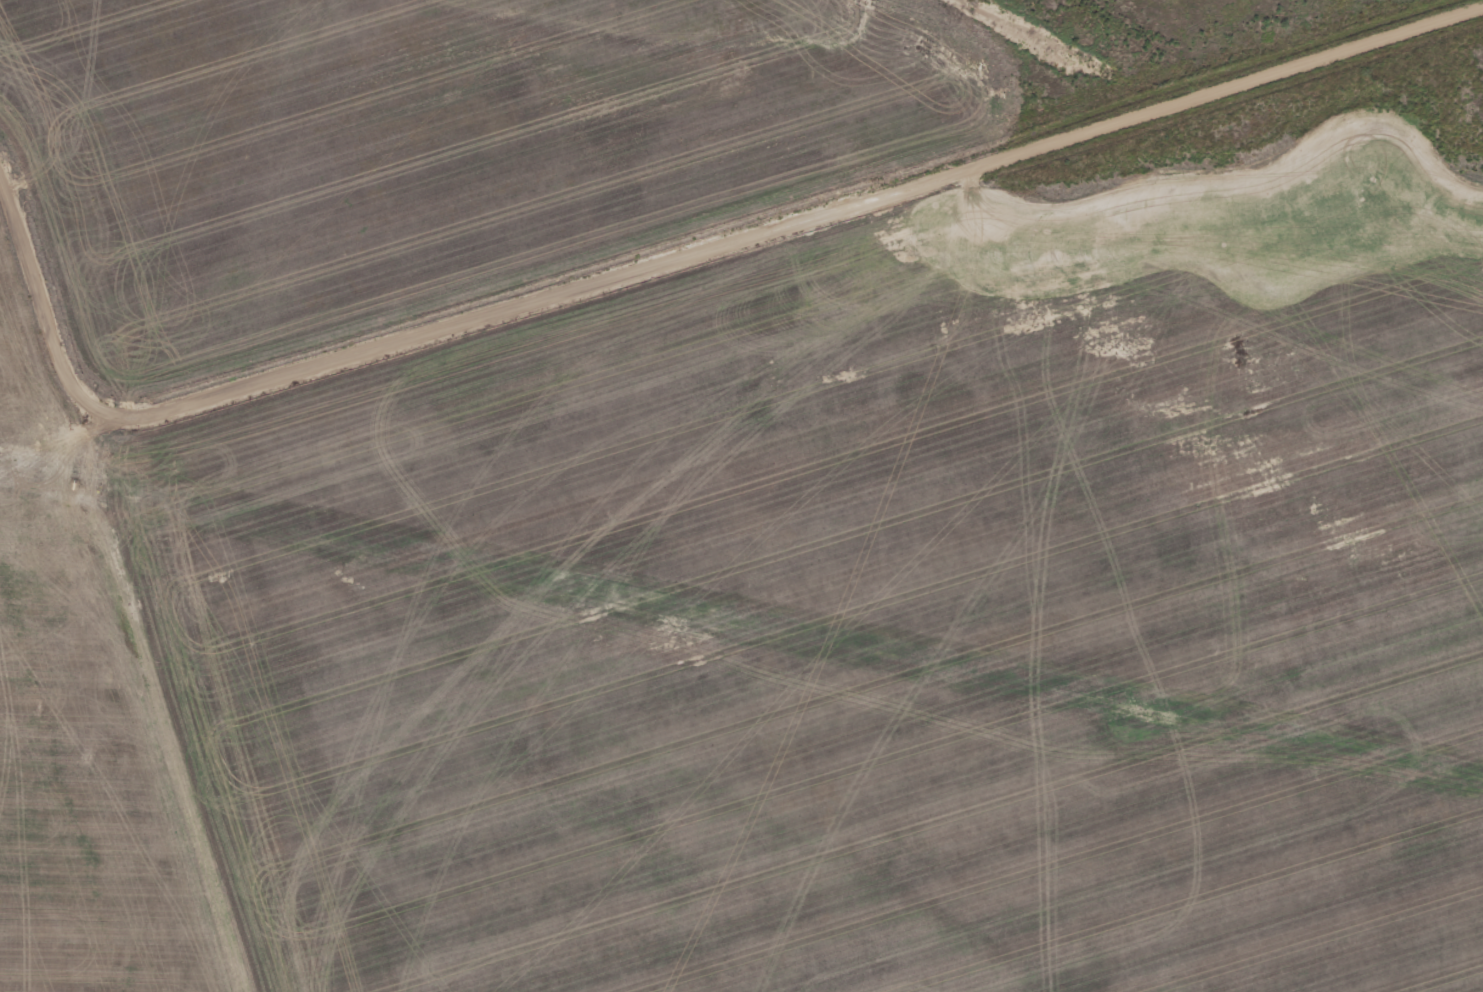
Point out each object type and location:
road: (669, 254)

